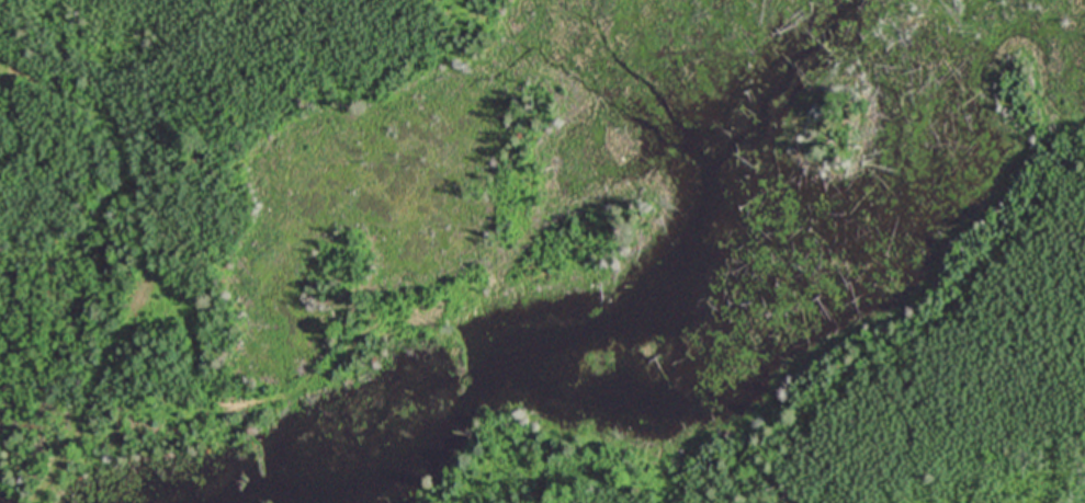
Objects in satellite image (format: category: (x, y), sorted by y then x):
road: (140, 259)

